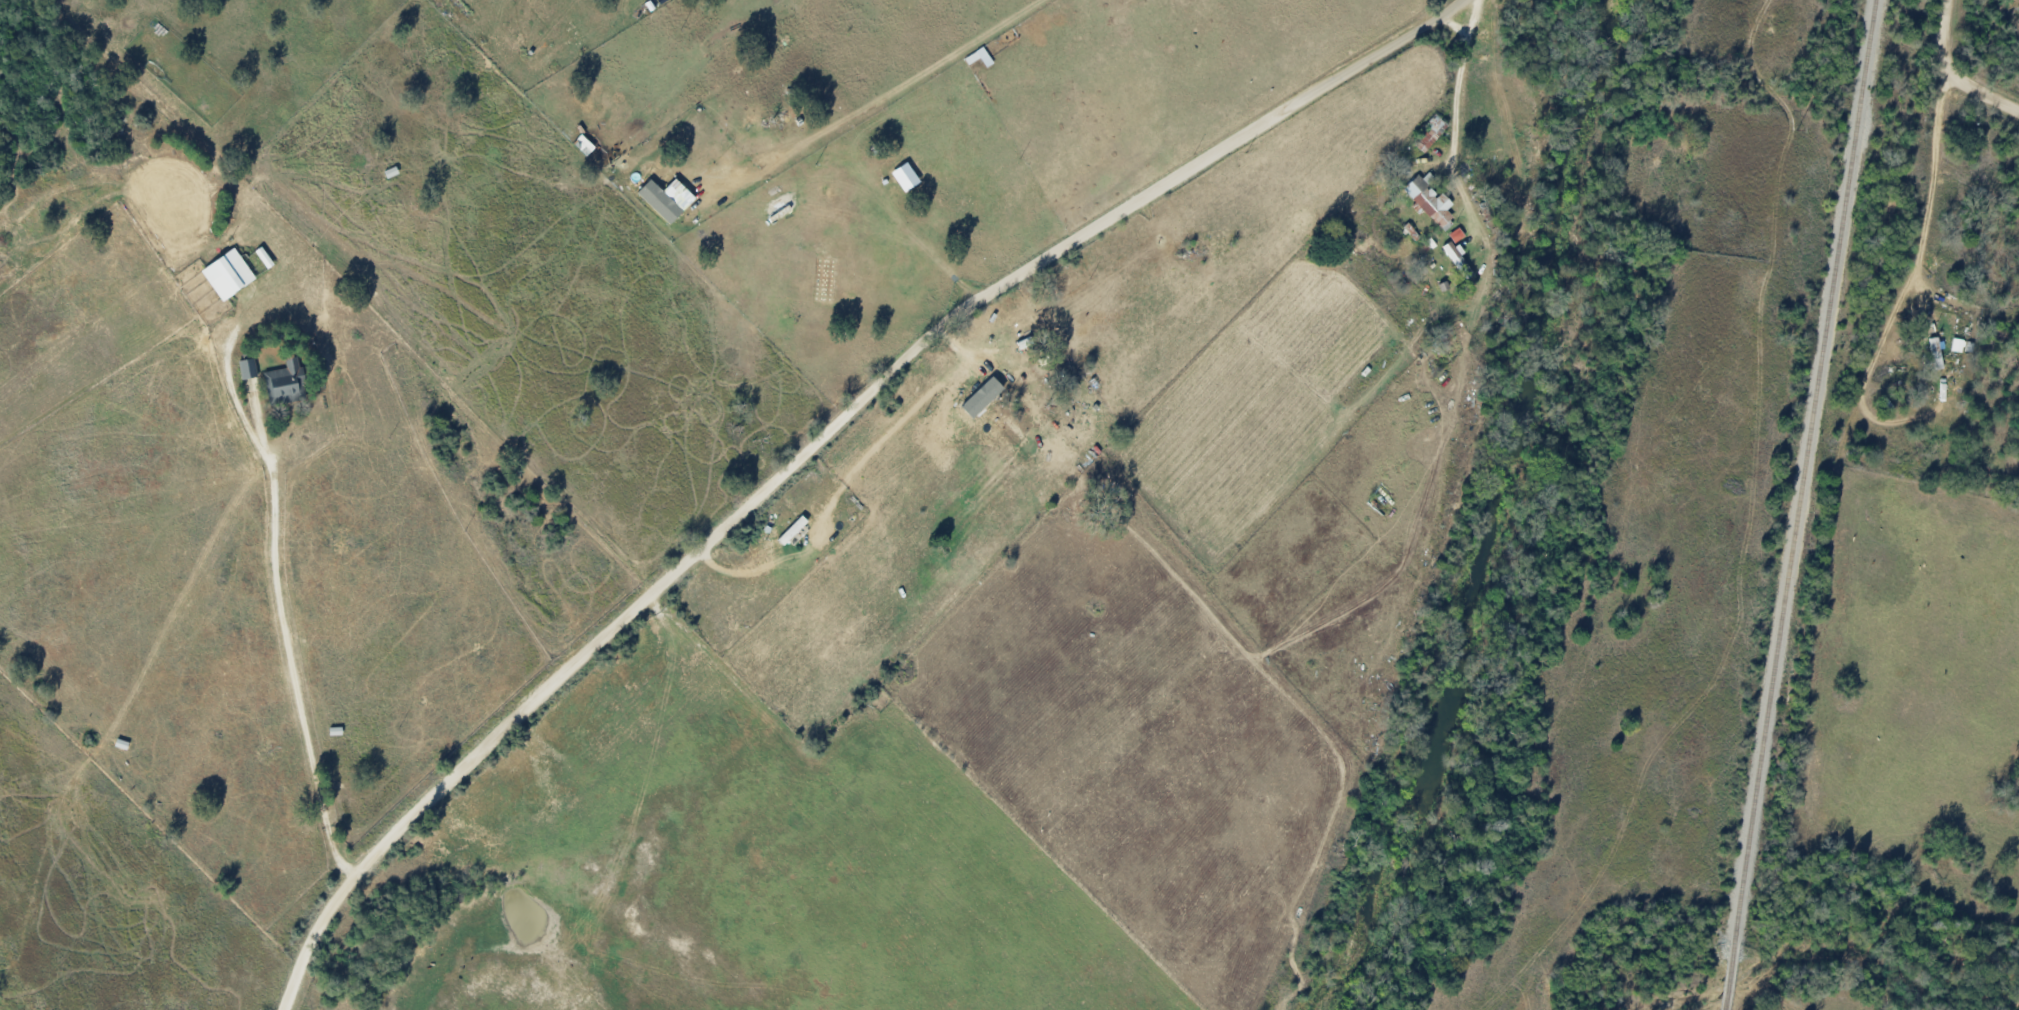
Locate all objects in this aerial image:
road: (1455, 25)
road: (1951, 73)
road: (1457, 93)
building: (1431, 136)
building: (905, 177)
road: (1932, 186)
building: (1428, 200)
building: (659, 201)
road: (591, 202)
building: (1456, 235)
building: (1454, 255)
building: (227, 274)
building: (1957, 346)
building: (1935, 353)
building: (247, 369)
building: (285, 380)
road: (818, 445)
railway: (1797, 505)
building: (792, 530)
road: (280, 609)
road: (51, 964)

